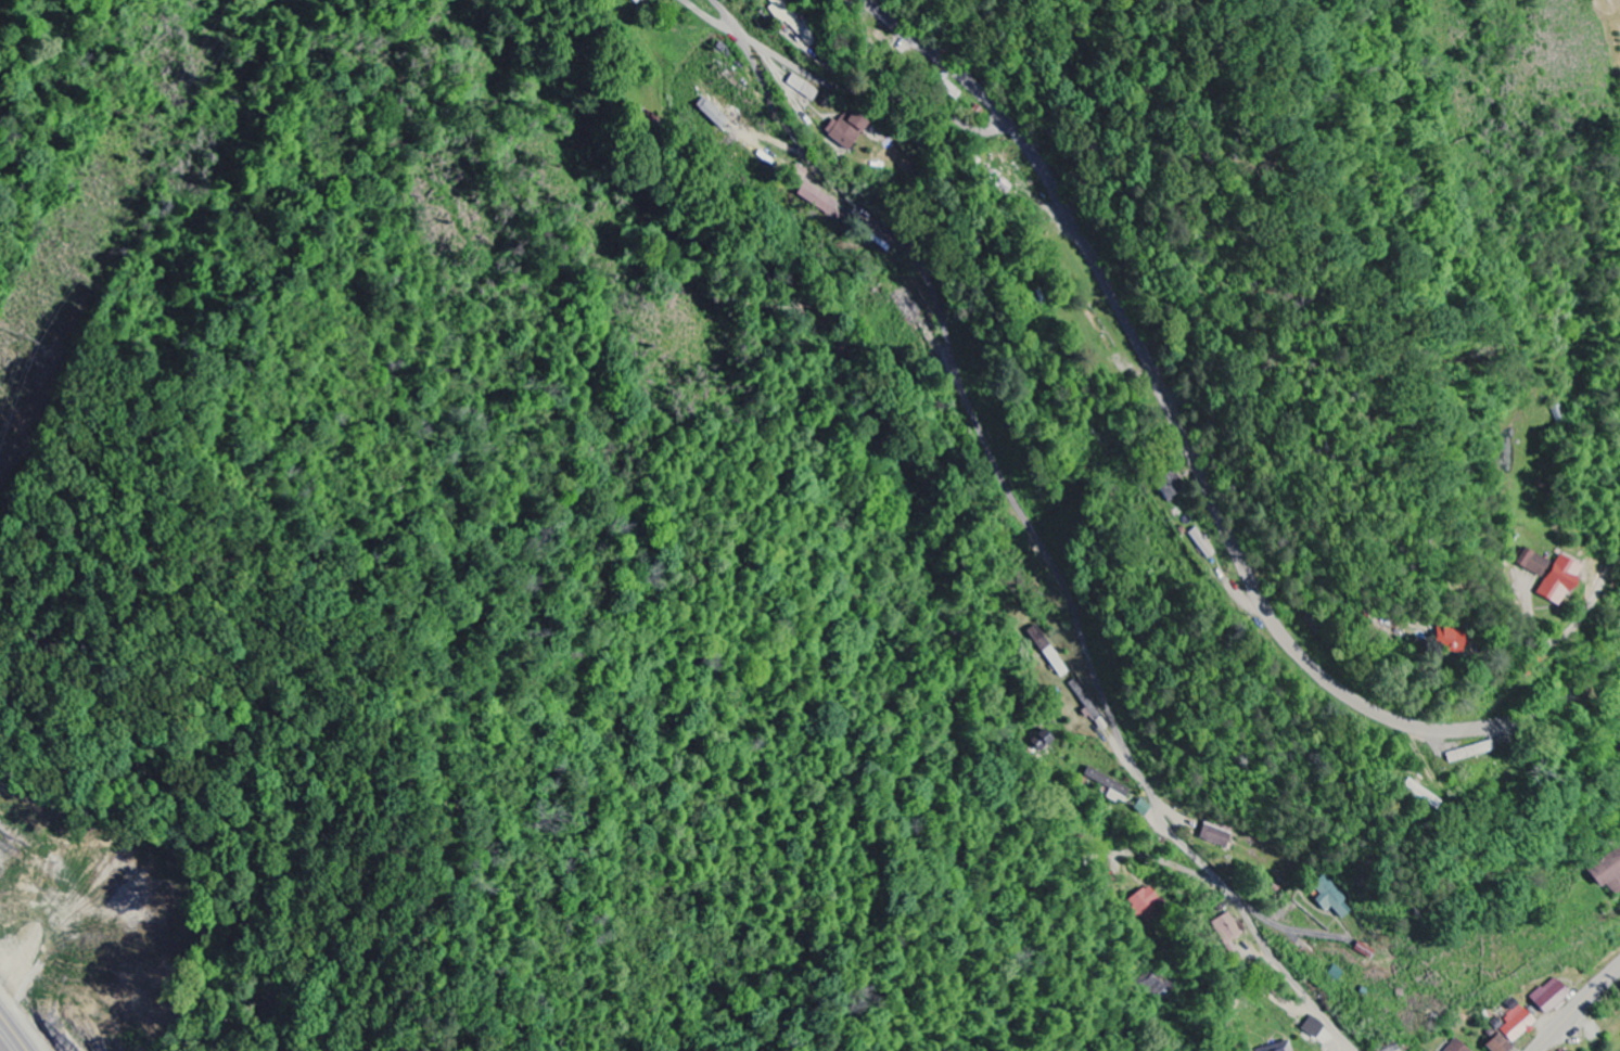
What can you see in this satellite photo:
building: (783, 11)
road: (712, 18)
building: (949, 90)
road: (873, 94)
building: (712, 114)
building: (846, 130)
building: (816, 200)
road: (1192, 470)
building: (1166, 487)
road: (1257, 502)
road: (1032, 526)
building: (1201, 543)
building: (1551, 576)
building: (1451, 639)
building: (1041, 741)
building: (1109, 786)
building: (1216, 837)
building: (1607, 873)
building: (1331, 898)
building: (1148, 906)
building: (1226, 930)
road: (1303, 935)
building: (1551, 997)
road: (1577, 1008)
building: (1518, 1026)
building: (1314, 1028)
building: (1498, 1044)
building: (1456, 1047)
building: (1279, 1048)
building: (1395, 1049)

